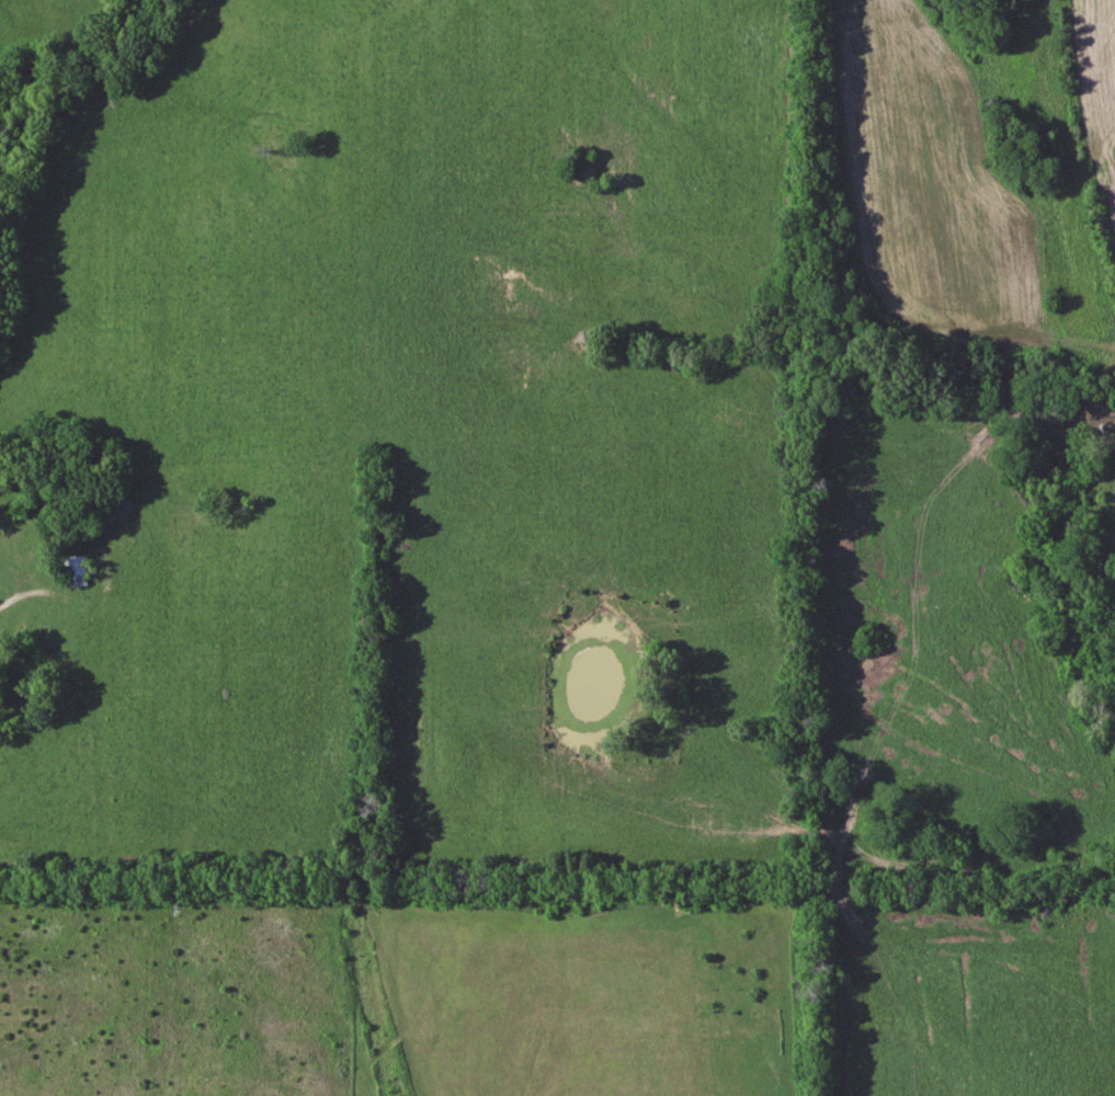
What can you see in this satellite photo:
building: (79, 570)
road: (5, 596)

